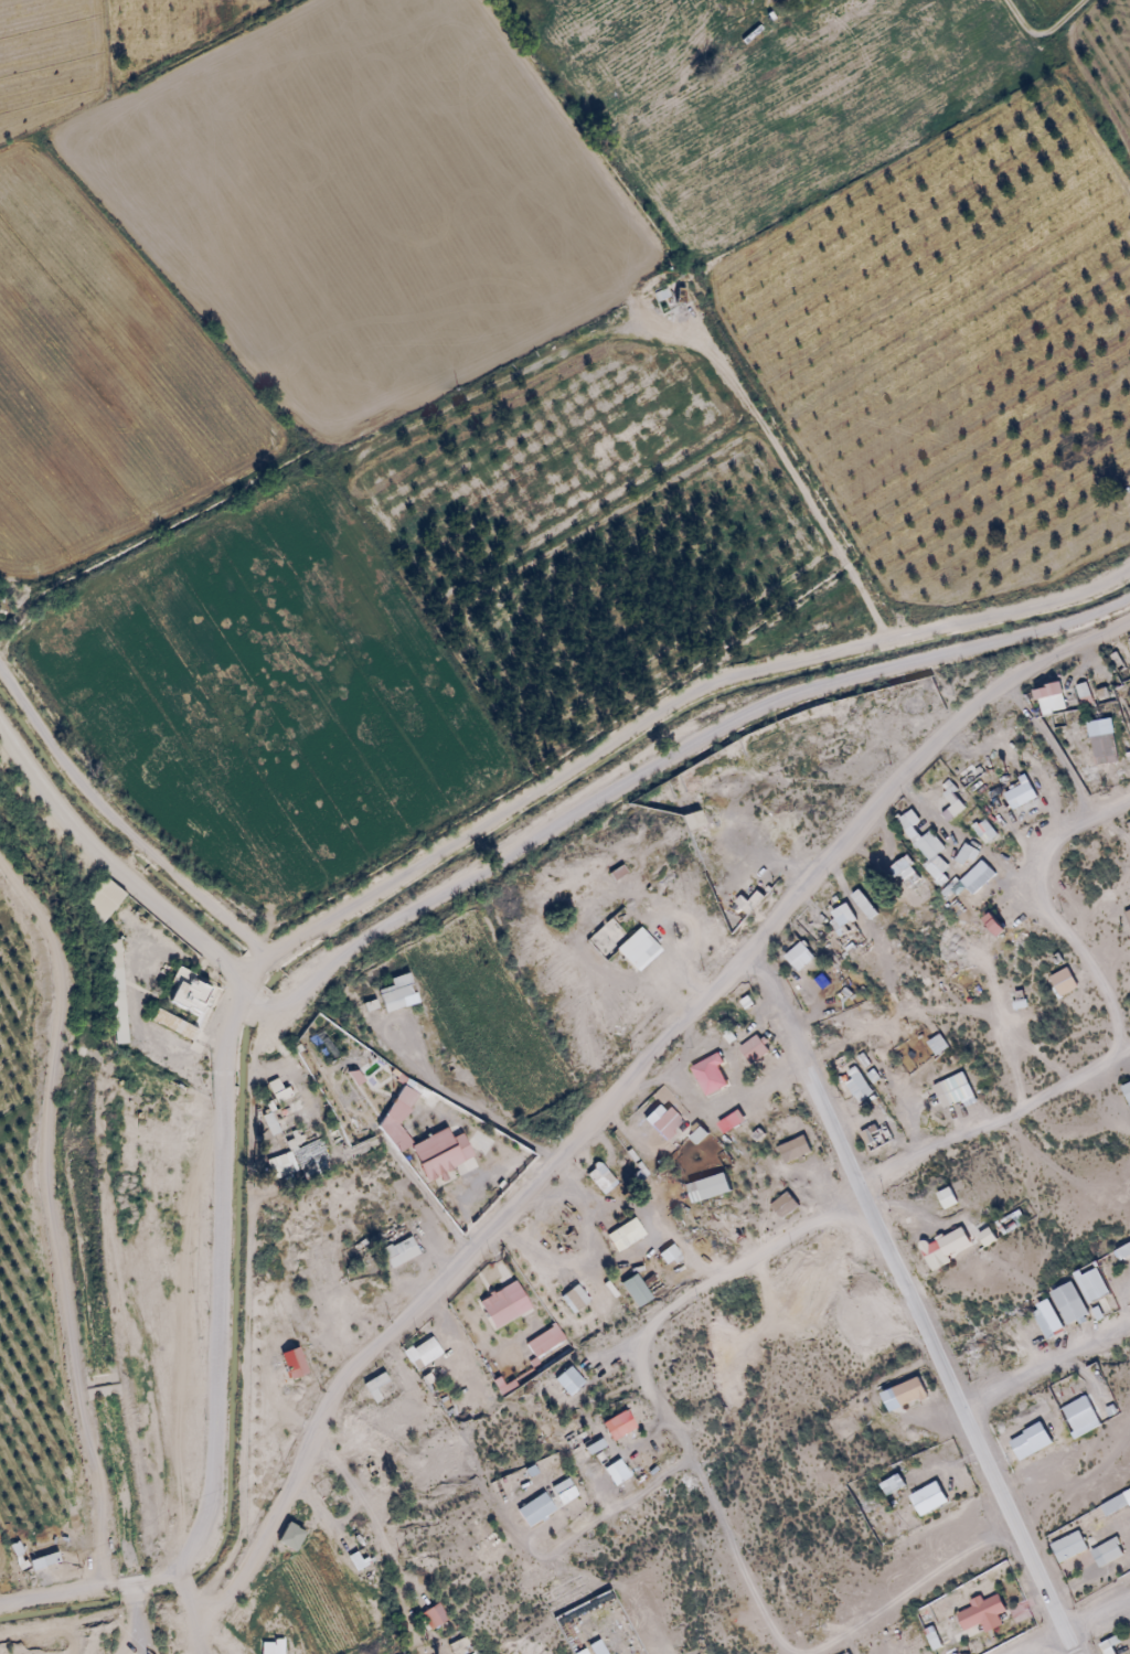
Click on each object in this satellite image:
road: (658, 714)
road: (1047, 749)
road: (662, 761)
road: (1080, 822)
road: (119, 826)
road: (110, 865)
road: (1084, 959)
road: (617, 1093)
road: (995, 1123)
road: (50, 1217)
road: (1046, 1366)
road: (1097, 1621)

